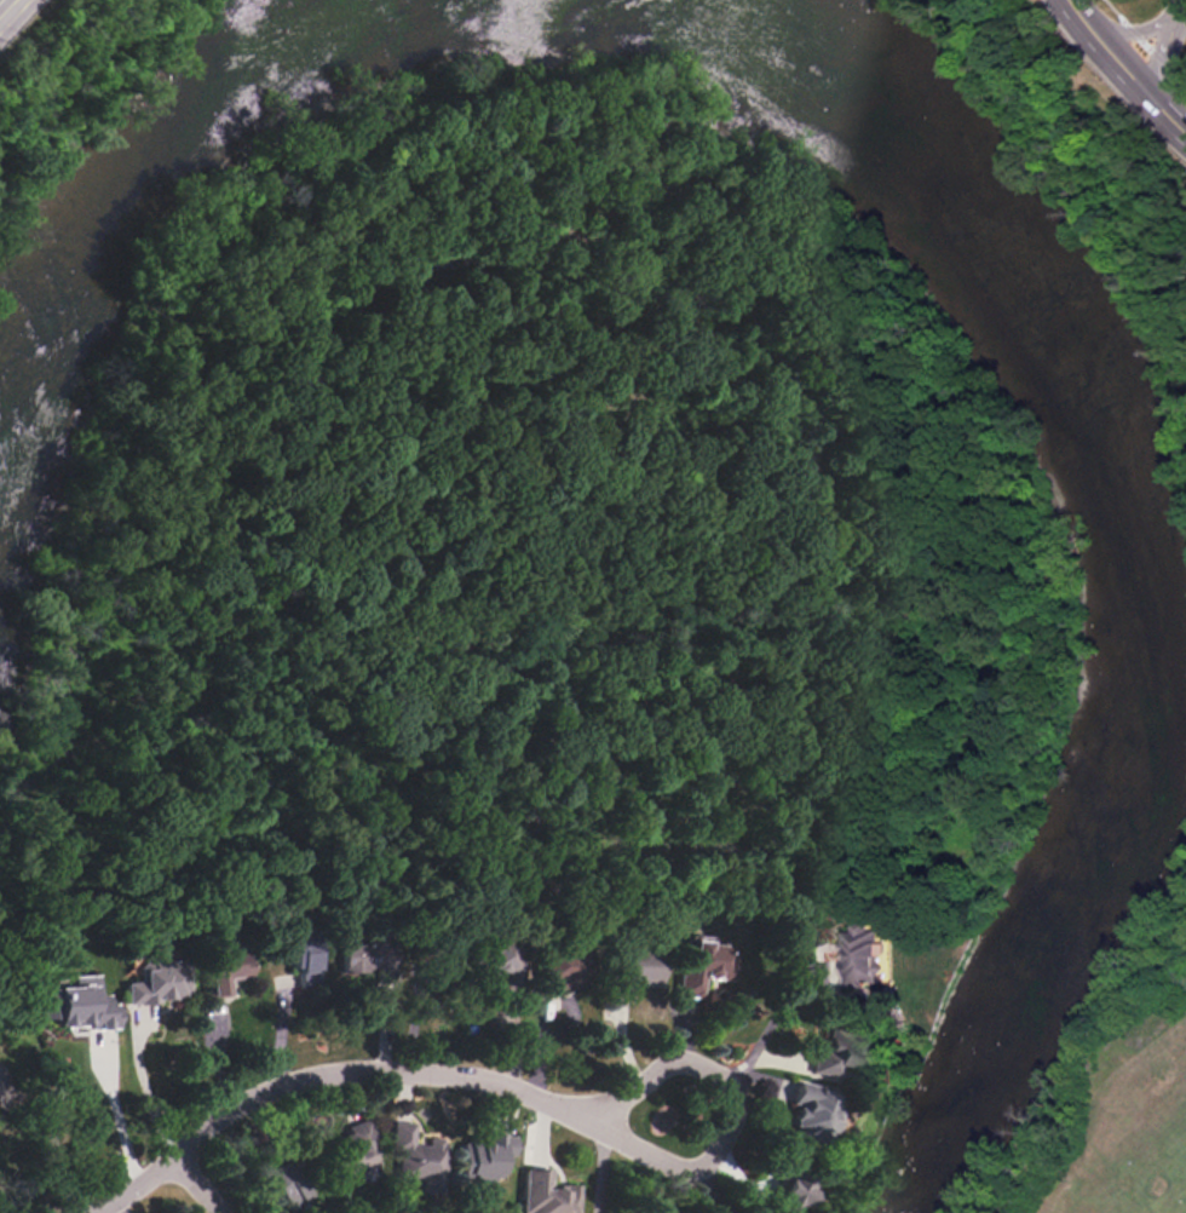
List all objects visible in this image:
road: (1179, 2)
road: (11, 10)
road: (2, 12)
road: (1140, 28)
road: (1164, 47)
road: (1128, 67)
river: (145, 177)
river: (1102, 533)
building: (436, 949)
building: (864, 955)
building: (303, 959)
building: (372, 959)
building: (501, 961)
building: (635, 968)
building: (703, 968)
building: (565, 970)
building: (226, 971)
building: (159, 982)
building: (76, 1005)
road: (755, 1051)
building: (837, 1053)
road: (631, 1073)
road: (369, 1077)
road: (140, 1083)
park: (1117, 1097)
road: (115, 1108)
building: (812, 1113)
road: (50, 1138)
building: (353, 1152)
building: (485, 1157)
building: (419, 1160)
road: (600, 1165)
road: (699, 1168)
road: (200, 1182)
building: (282, 1183)
building: (791, 1184)
building: (547, 1194)
road: (704, 1202)

